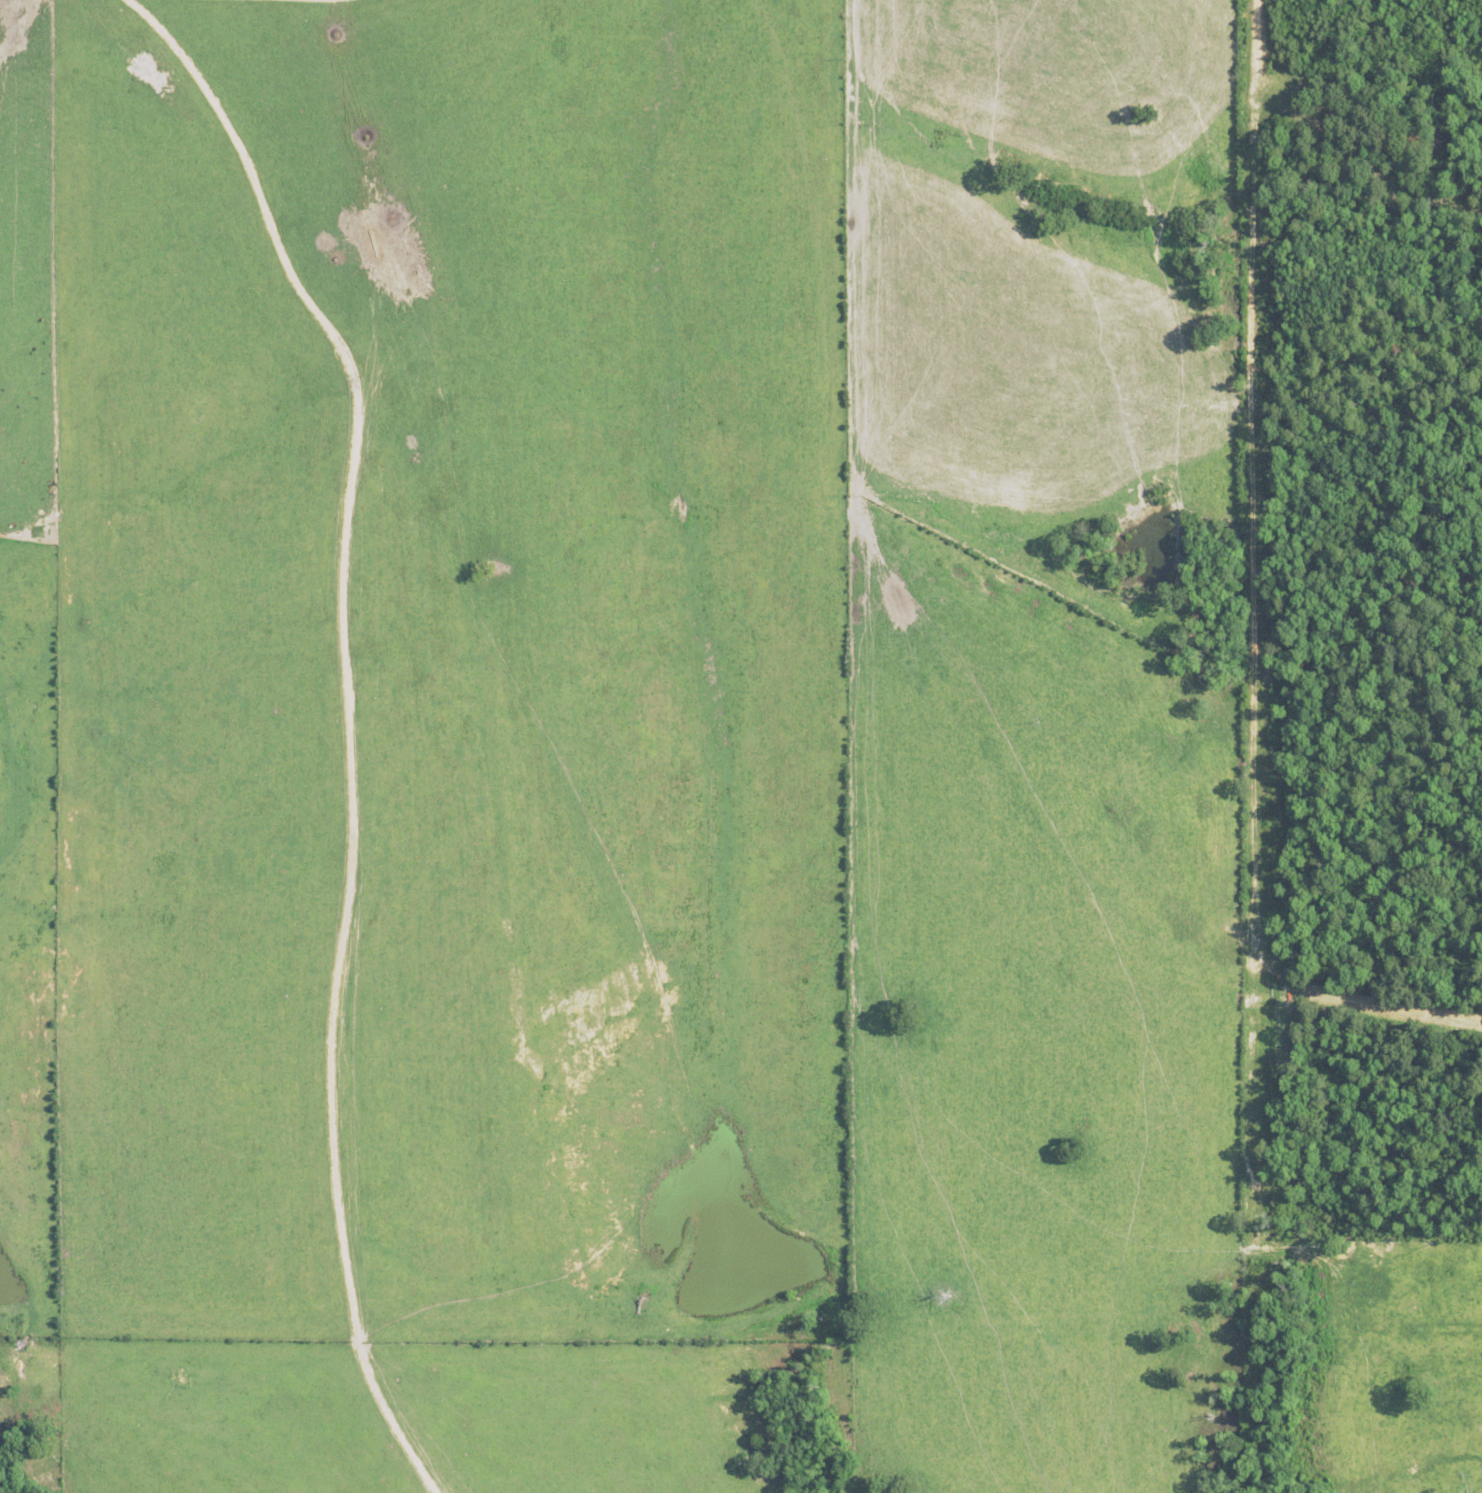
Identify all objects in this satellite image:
road: (1273, 187)

